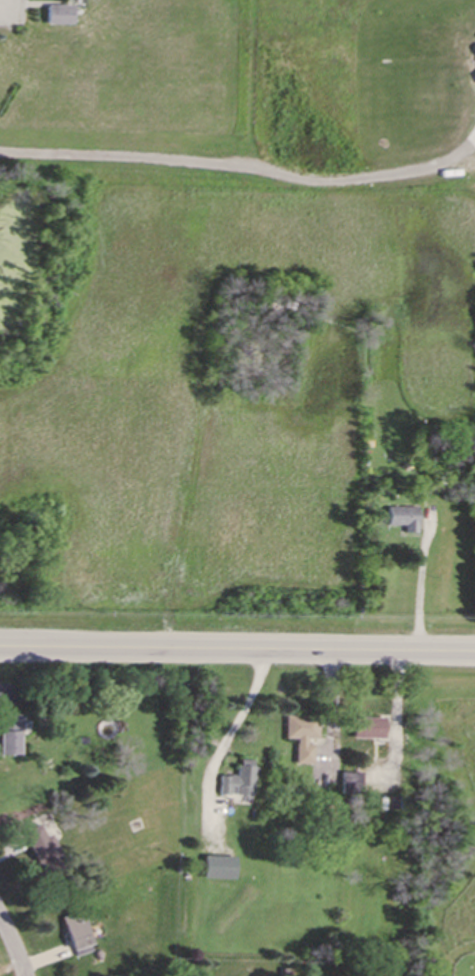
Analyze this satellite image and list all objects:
road: (9, 12)
building: (57, 13)
road: (242, 166)
building: (400, 516)
road: (418, 588)
road: (237, 650)
road: (394, 717)
road: (233, 723)
building: (365, 726)
building: (8, 734)
building: (299, 734)
building: (235, 778)
building: (348, 778)
building: (38, 846)
building: (215, 865)
building: (75, 933)
road: (12, 947)

